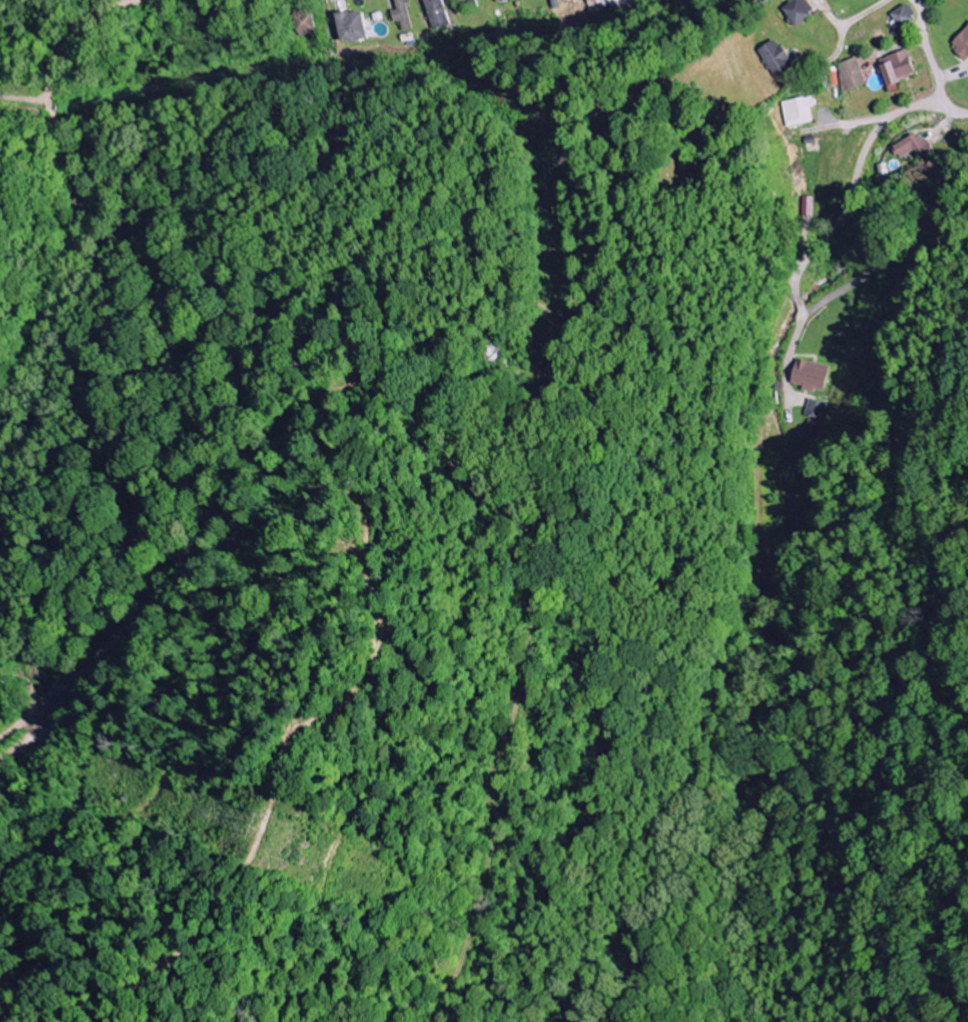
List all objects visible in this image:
building: (492, 0)
building: (461, 4)
building: (798, 10)
building: (396, 14)
building: (432, 15)
building: (903, 16)
road: (851, 22)
building: (343, 27)
building: (962, 44)
road: (928, 53)
building: (774, 58)
building: (897, 69)
building: (851, 74)
building: (798, 111)
road: (855, 123)
building: (915, 150)
park: (606, 166)
building: (881, 173)
road: (851, 183)
building: (806, 206)
building: (807, 375)
building: (812, 408)

